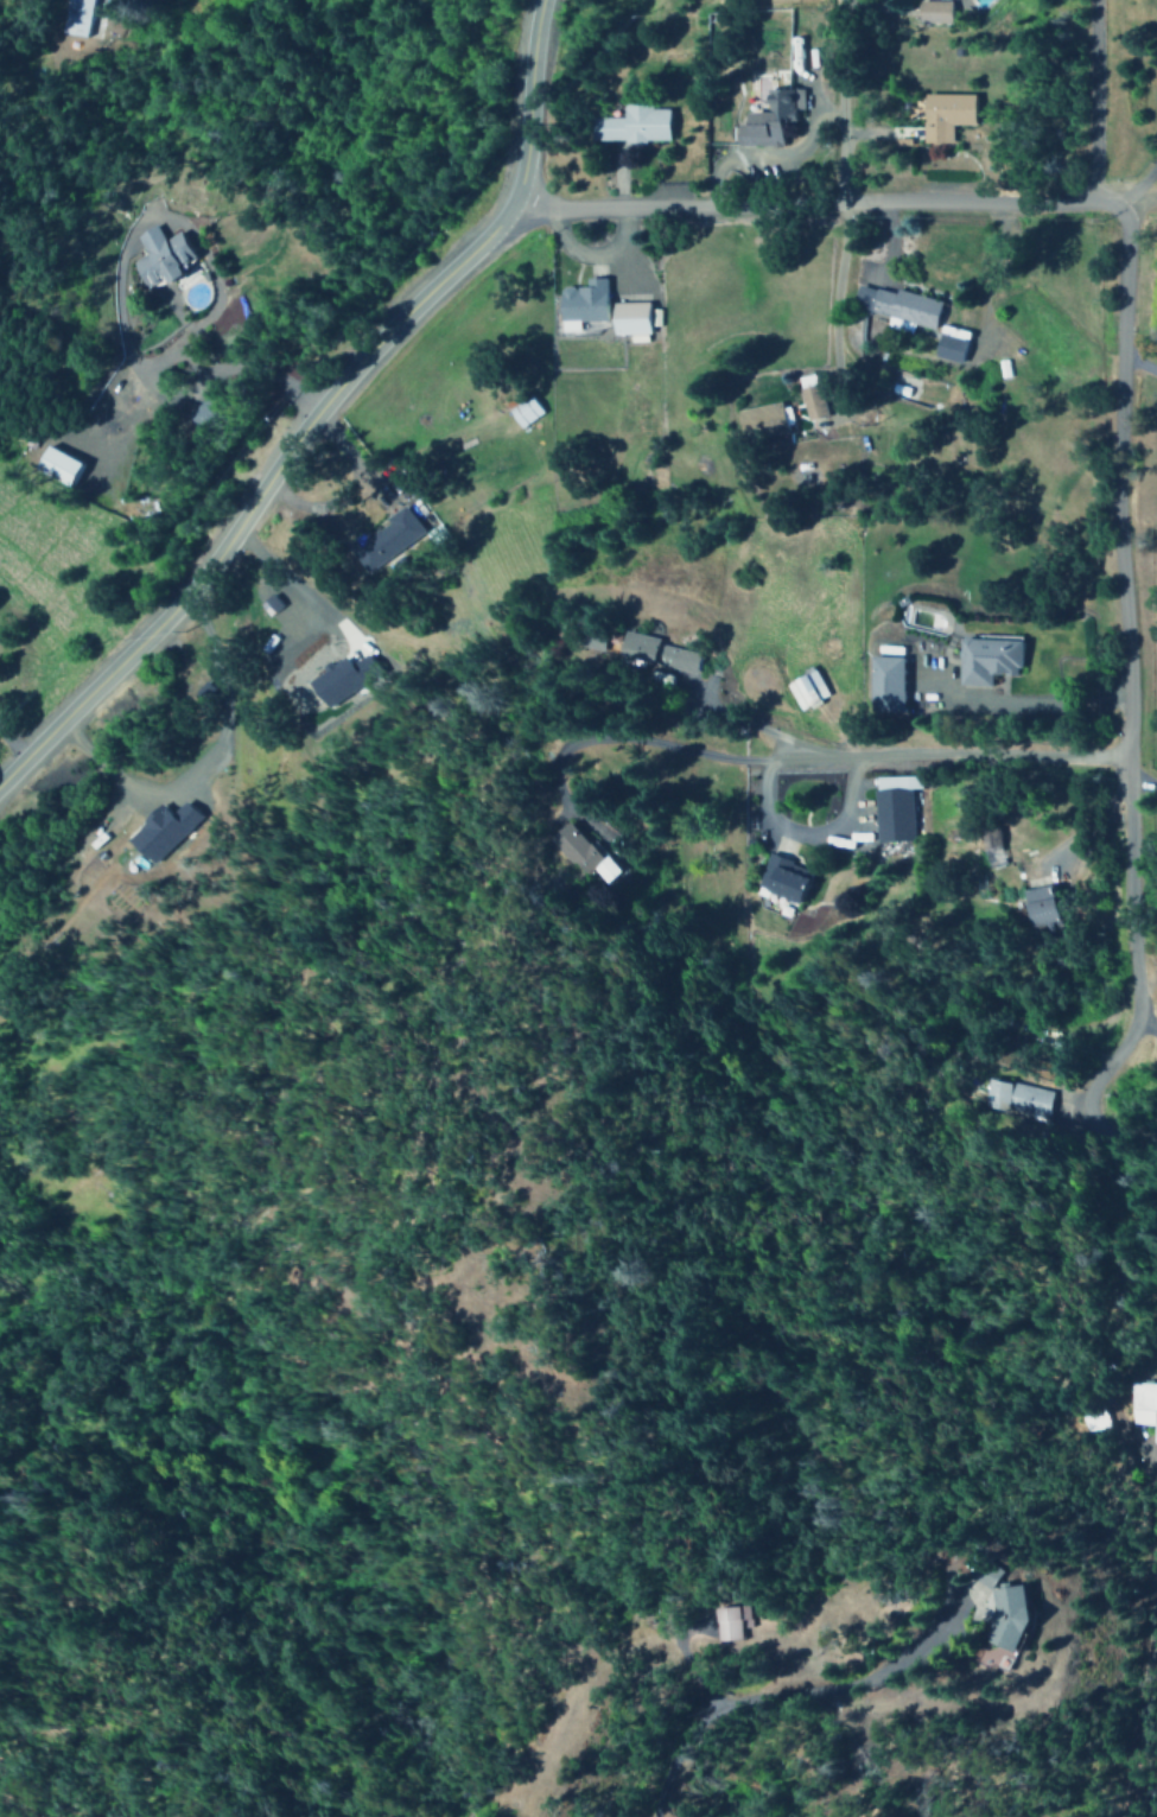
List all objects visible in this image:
building: (930, 11)
building: (77, 18)
road: (843, 99)
building: (942, 114)
building: (767, 119)
building: (631, 123)
road: (1143, 186)
road: (819, 197)
road: (1140, 201)
building: (155, 255)
building: (579, 303)
building: (895, 306)
building: (629, 317)
building: (948, 345)
road: (1138, 366)
building: (809, 400)
road: (318, 407)
building: (521, 411)
building: (764, 419)
building: (58, 465)
road: (1119, 507)
building: (387, 538)
building: (888, 650)
building: (984, 659)
building: (337, 678)
building: (883, 685)
building: (803, 688)
road: (784, 761)
building: (891, 807)
building: (158, 830)
building: (988, 844)
building: (572, 845)
building: (777, 877)
building: (1037, 906)
road: (1148, 981)
road: (1137, 985)
road: (1145, 1024)
building: (1016, 1098)
building: (1140, 1409)
building: (981, 1619)
building: (705, 1625)
road: (788, 1696)

